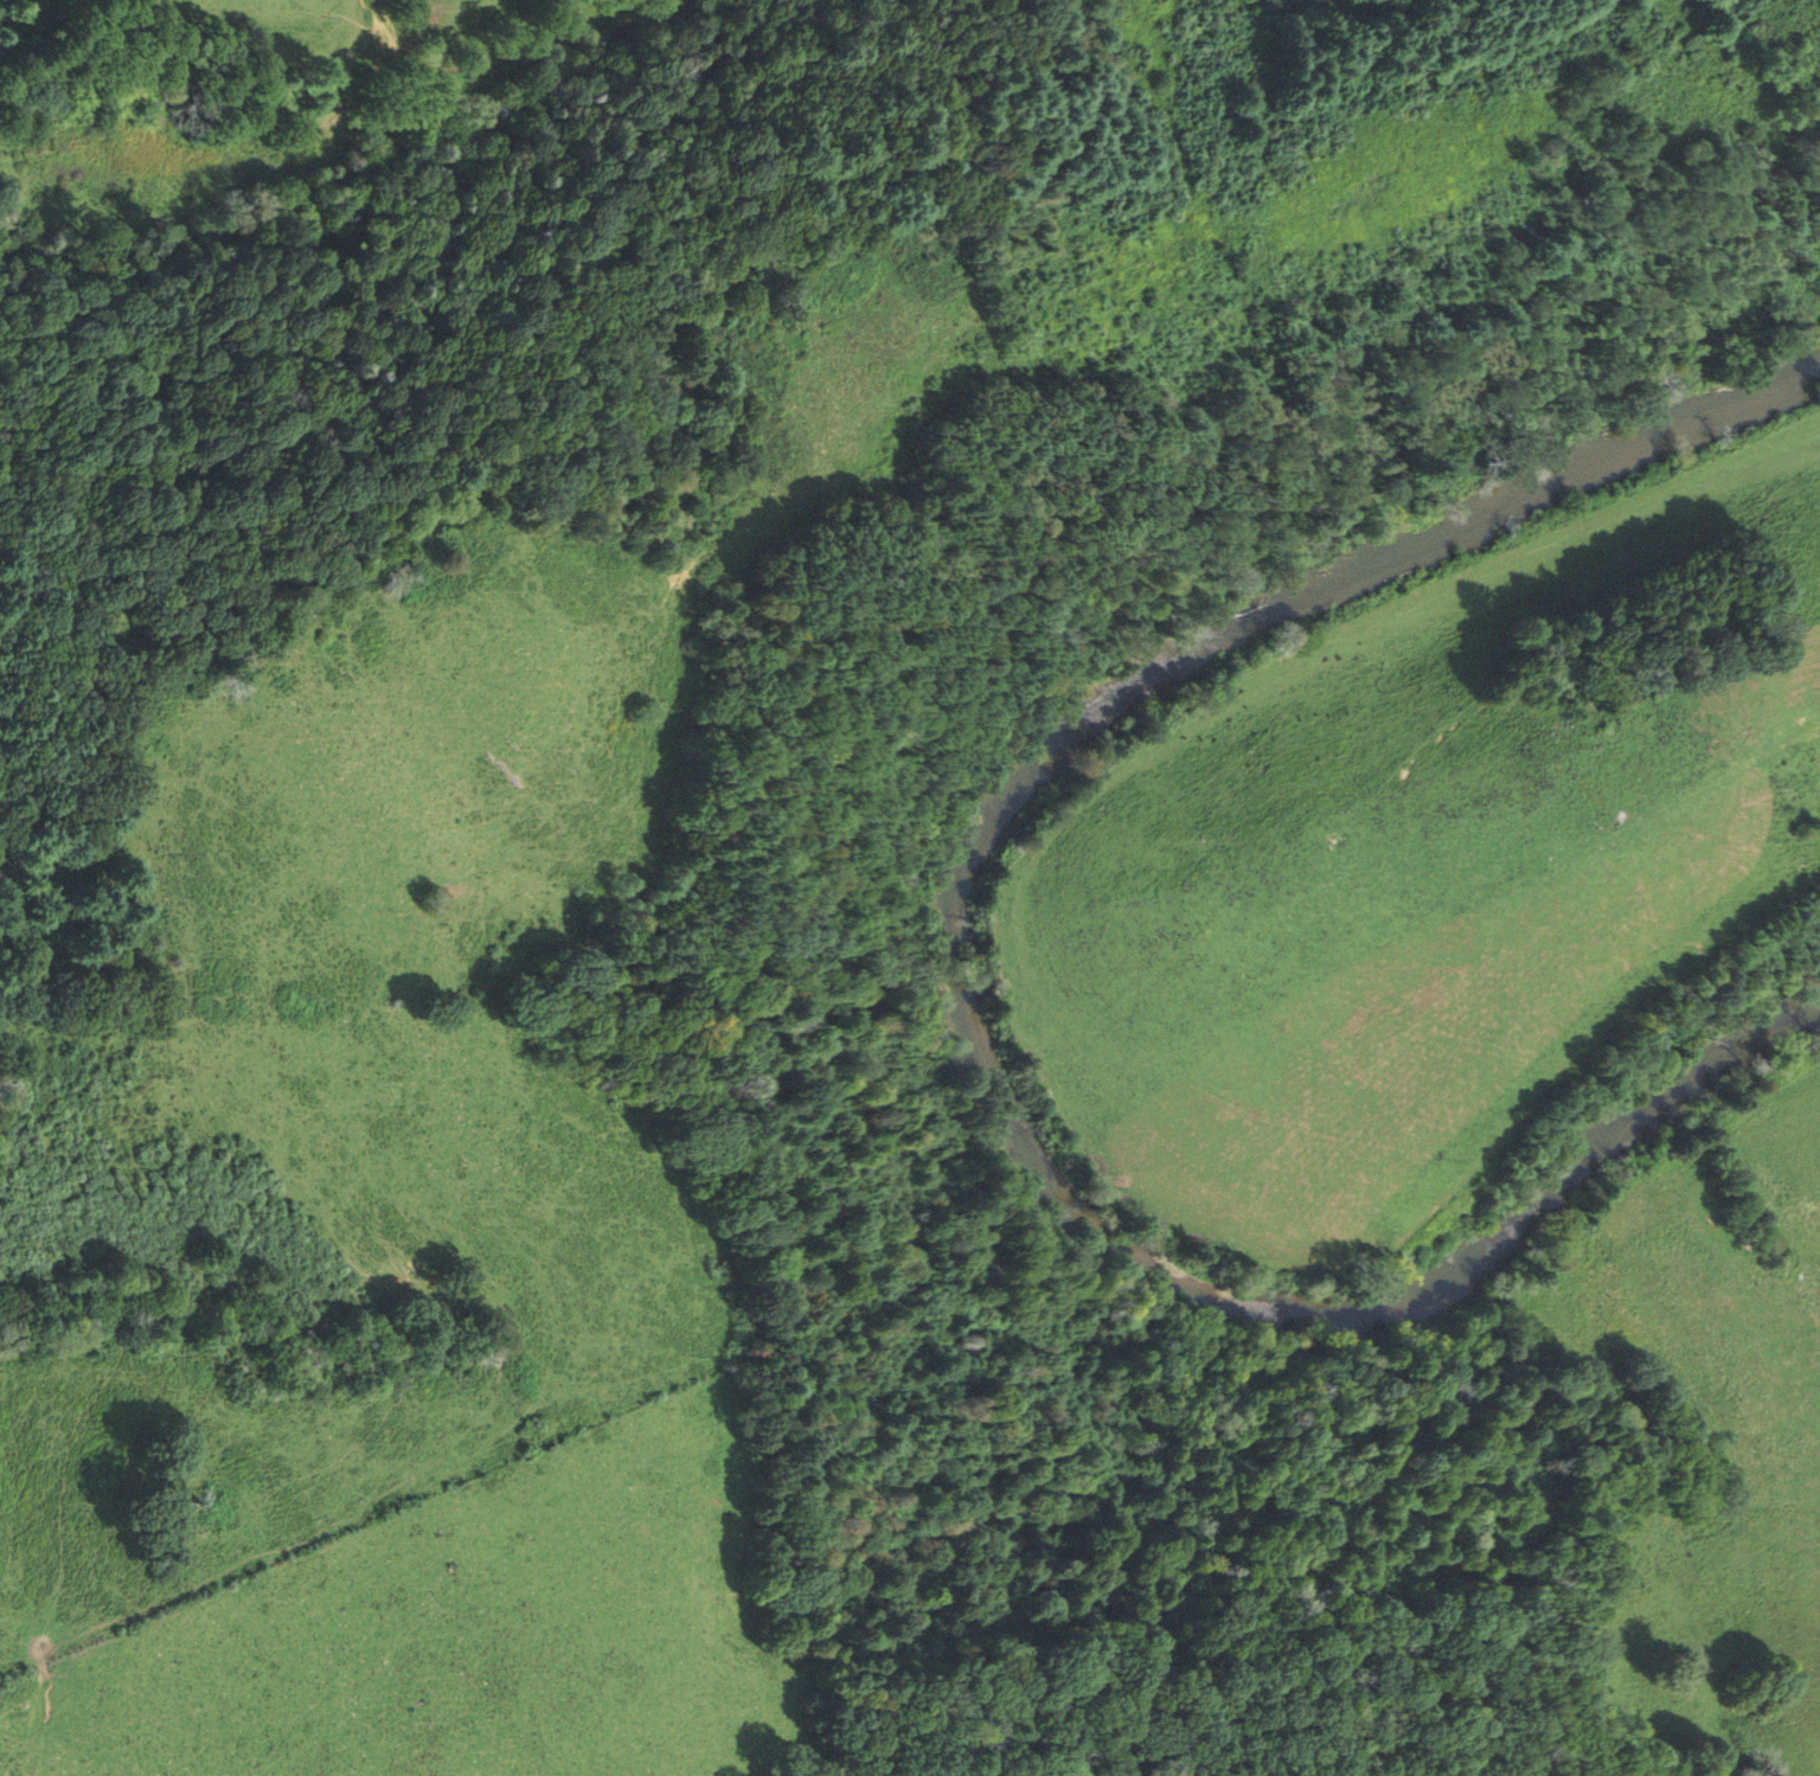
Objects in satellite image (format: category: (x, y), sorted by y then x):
river: (968, 1034)

